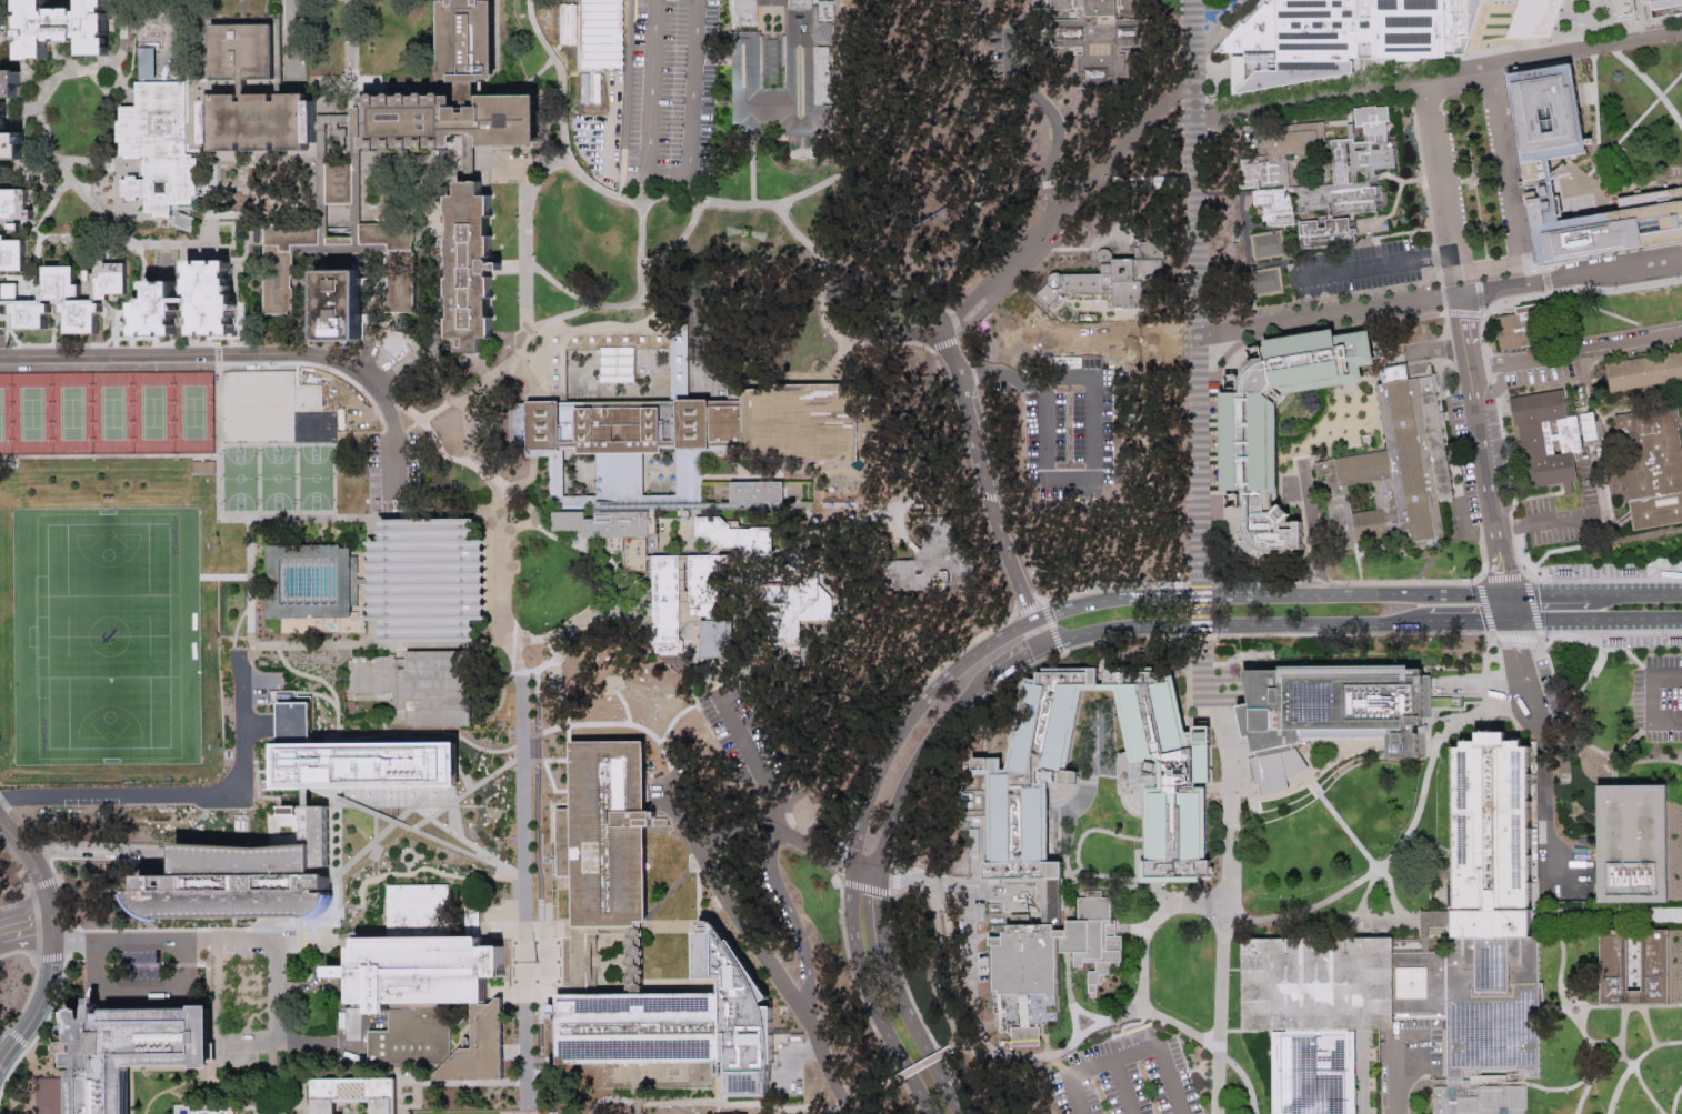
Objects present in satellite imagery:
road: (1500, 2)
road: (784, 4)
park: (1191, 4)
building: (1662, 8)
road: (242, 11)
road: (1592, 14)
building: (1534, 17)
road: (1625, 18)
parking lot: (2, 19)
road: (1640, 19)
building: (64, 26)
road: (1593, 27)
road: (1573, 28)
road: (1213, 31)
building: (153, 32)
building: (599, 32)
parking lot: (679, 32)
road: (631, 34)
building: (1341, 37)
road: (642, 39)
building: (1102, 39)
building: (468, 40)
road: (291, 42)
road: (351, 42)
road: (567, 43)
road: (1475, 47)
parking lot: (1001, 48)
road: (1365, 48)
building: (241, 50)
road: (1183, 50)
road: (642, 53)
road: (1372, 57)
building: (140, 60)
road: (713, 61)
road: (1438, 61)
road: (1499, 64)
road: (674, 66)
road: (1213, 70)
road: (1365, 72)
road: (1438, 73)
road: (640, 74)
building: (807, 74)
road: (1643, 78)
road: (648, 81)
road: (584, 82)
road: (236, 84)
road: (407, 84)
road: (519, 84)
road: (1671, 84)
road: (469, 89)
road: (541, 90)
road: (1172, 98)
road: (1042, 101)
building: (4, 118)
road: (1174, 118)
building: (258, 120)
road: (743, 139)
road: (975, 139)
building: (158, 144)
road: (1594, 145)
road: (619, 148)
road: (1124, 151)
road: (98, 163)
road: (376, 164)
road: (1435, 164)
building: (1354, 165)
building: (1276, 170)
building: (1534, 171)
flagpole: (1471, 175)
road: (905, 181)
road: (1578, 183)
building: (338, 184)
road: (1047, 184)
road: (1074, 184)
road: (1599, 188)
road: (84, 194)
road: (1539, 194)
road: (538, 195)
road: (1523, 197)
road: (39, 201)
road: (1051, 201)
road: (312, 214)
road: (39, 225)
building: (12, 227)
road: (251, 230)
building: (1326, 231)
road: (1606, 231)
road: (173, 241)
road: (1114, 241)
building: (1268, 243)
road: (1121, 250)
road: (1609, 250)
road: (540, 253)
road: (882, 255)
road: (221, 257)
road: (1019, 258)
road: (693, 259)
road: (1534, 262)
building: (396, 263)
road: (1380, 264)
building: (283, 265)
road: (870, 267)
parking lot: (1360, 268)
building: (471, 269)
road: (832, 273)
road: (1454, 274)
road: (1570, 278)
building: (1111, 280)
building: (1265, 280)
road: (837, 291)
road: (1195, 291)
building: (68, 293)
road: (728, 293)
road: (438, 295)
road: (553, 295)
building: (189, 297)
road: (661, 297)
building: (339, 302)
road: (1600, 308)
park: (1618, 309)
road: (238, 313)
road: (1328, 315)
road: (1461, 320)
road: (971, 322)
building: (1521, 327)
road: (1581, 337)
road: (944, 341)
road: (163, 342)
road: (212, 342)
road: (51, 343)
road: (1483, 343)
road: (1431, 349)
road: (1575, 351)
road: (218, 352)
road: (244, 352)
road: (949, 353)
road: (545, 363)
building: (1641, 371)
road: (1022, 378)
road: (492, 397)
road: (537, 397)
building: (262, 402)
park: (258, 403)
park: (104, 411)
road: (1679, 423)
building: (1091, 424)
building: (1045, 425)
building: (673, 428)
road: (409, 429)
road: (431, 430)
road: (1481, 436)
building: (1549, 436)
road: (1451, 439)
road: (470, 444)
building: (1248, 446)
building: (201, 463)
road: (735, 463)
building: (1650, 466)
building: (1391, 468)
road: (811, 470)
road: (858, 474)
road: (918, 474)
park: (278, 475)
road: (531, 490)
building: (762, 492)
road: (990, 500)
road: (1058, 506)
parking lot: (1563, 513)
road: (1576, 515)
road: (1311, 528)
road: (555, 535)
road: (1638, 535)
building: (234, 545)
road: (1432, 546)
road: (784, 548)
road: (1554, 549)
road: (1482, 550)
road: (1244, 552)
road: (709, 553)
road: (1433, 556)
road: (683, 558)
building: (927, 560)
road: (1502, 560)
building: (672, 564)
road: (1358, 565)
road: (502, 568)
road: (1608, 571)
road: (223, 574)
building: (393, 578)
road: (668, 578)
park: (550, 581)
road: (1259, 582)
road: (1651, 592)
road: (1363, 593)
road: (1579, 593)
traffic signals: (1221, 594)
traffic signals: (1508, 594)
road: (1522, 594)
road: (1123, 596)
road: (1509, 606)
road: (1202, 609)
building: (797, 610)
road: (1045, 612)
road: (251, 619)
road: (1621, 619)
road: (1454, 620)
traffic signals: (1511, 620)
road: (1535, 620)
road: (574, 623)
road: (1219, 623)
traffic signals: (1181, 624)
road: (685, 630)
park: (104, 632)
road: (1037, 633)
road: (1541, 635)
building: (708, 636)
road: (1575, 638)
road: (234, 640)
road: (1090, 643)
road: (1603, 649)
road: (1015, 659)
road: (1648, 670)
road: (316, 675)
road: (718, 679)
building: (410, 686)
road: (1575, 693)
road: (324, 697)
road: (1653, 697)
parking lot: (1659, 697)
road: (899, 705)
road: (683, 713)
building: (1329, 713)
road: (905, 716)
road: (592, 721)
road: (428, 733)
parking lot: (743, 737)
road: (744, 744)
road: (1581, 744)
road: (1544, 745)
road: (1092, 749)
building: (358, 755)
road: (1345, 756)
road: (1621, 760)
road: (914, 761)
road: (1232, 767)
road: (1616, 772)
road: (818, 782)
road: (1424, 782)
road: (475, 785)
road: (1272, 793)
road: (172, 795)
road: (369, 804)
road: (1074, 805)
road: (731, 820)
road: (1085, 830)
building: (595, 831)
road: (459, 834)
road: (376, 837)
road: (1431, 841)
road: (22, 845)
road: (1052, 847)
building: (1173, 847)
road: (813, 849)
road: (463, 850)
road: (1365, 852)
road: (407, 871)
road: (1108, 874)
road: (527, 876)
building: (233, 879)
road: (949, 884)
road: (865, 886)
road: (1115, 886)
road: (21, 889)
building: (1632, 890)
road: (47, 896)
road: (652, 907)
road: (1306, 907)
building: (416, 911)
road: (875, 913)
road: (1663, 914)
road: (1588, 915)
road: (1398, 920)
road: (24, 924)
road: (1150, 924)
road: (1131, 926)
road: (749, 930)
road: (328, 931)
building: (1483, 934)
road: (181, 940)
road: (575, 959)
road: (581, 960)
road: (587, 960)
road: (593, 960)
road: (1565, 960)
road: (935, 964)
road: (952, 978)
road: (117, 985)
road: (908, 988)
road: (868, 995)
road: (41, 996)
road: (1070, 996)
building: (430, 1002)
road: (862, 1002)
road: (1553, 1006)
road: (1632, 1006)
road: (1221, 1008)
fountain: (1575, 1011)
building: (1315, 1013)
road: (1571, 1014)
road: (1109, 1018)
road: (4, 1024)
road: (1649, 1025)
building: (691, 1026)
road: (273, 1027)
road: (461, 1031)
road: (1622, 1031)
road: (919, 1035)
road: (1605, 1042)
road: (1589, 1045)
road: (1654, 1046)
building: (131, 1051)
road: (1128, 1052)
road: (992, 1053)
road: (923, 1063)
road: (1060, 1063)
road: (1604, 1065)
road: (1363, 1071)
parking lot: (1125, 1077)
road: (1244, 1077)
road: (1395, 1080)
road: (283, 1081)
road: (1576, 1083)
road: (1642, 1084)
road: (1122, 1085)
road: (1618, 1087)
building: (353, 1095)
road: (399, 1096)
road: (1674, 1100)
road: (738, 1104)
road: (484, 1110)
building: (212, 1111)
road: (263, 1112)
park: (455, 1112)
road: (528, 1112)
building: (727, 1113)

